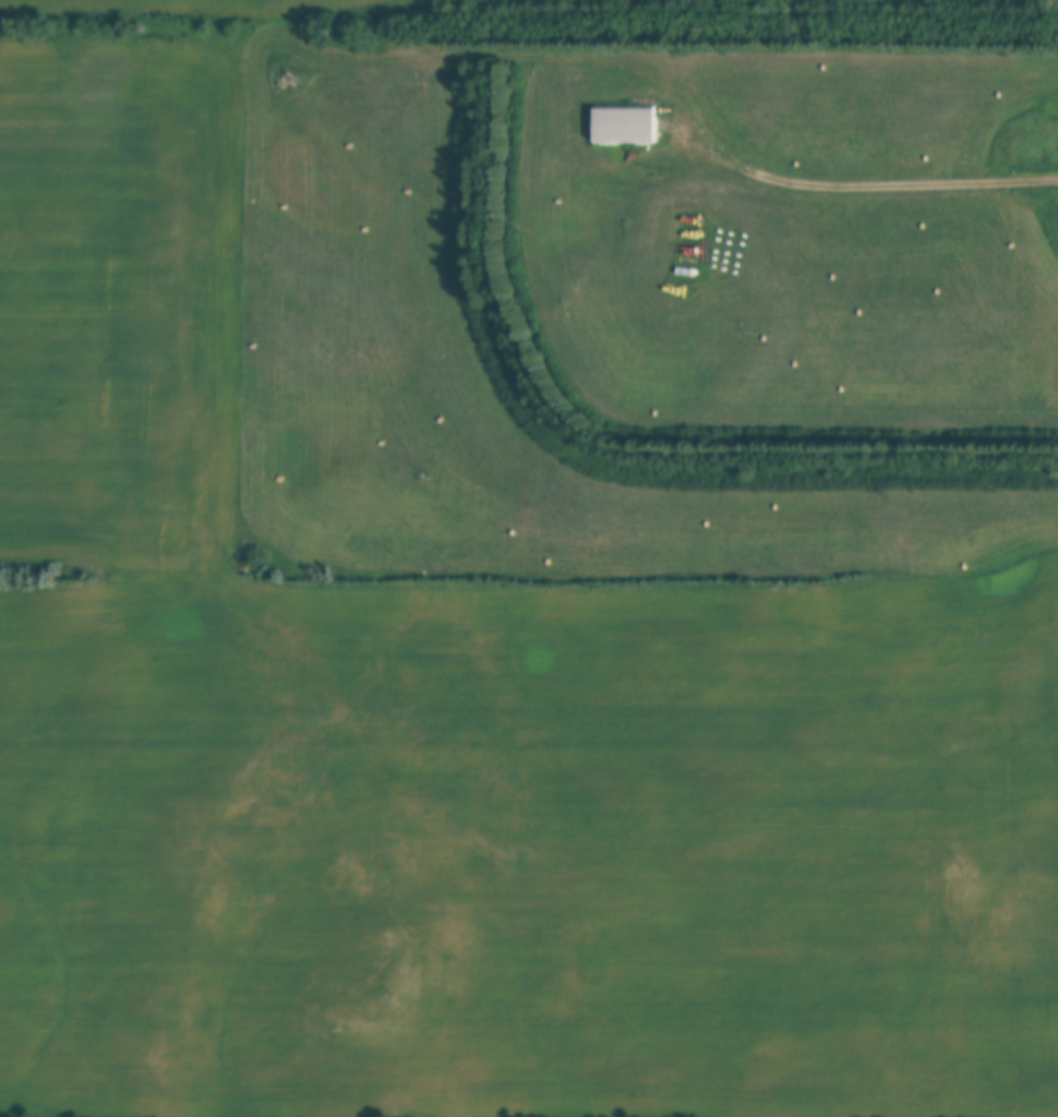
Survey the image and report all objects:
building: (630, 125)
road: (859, 187)

